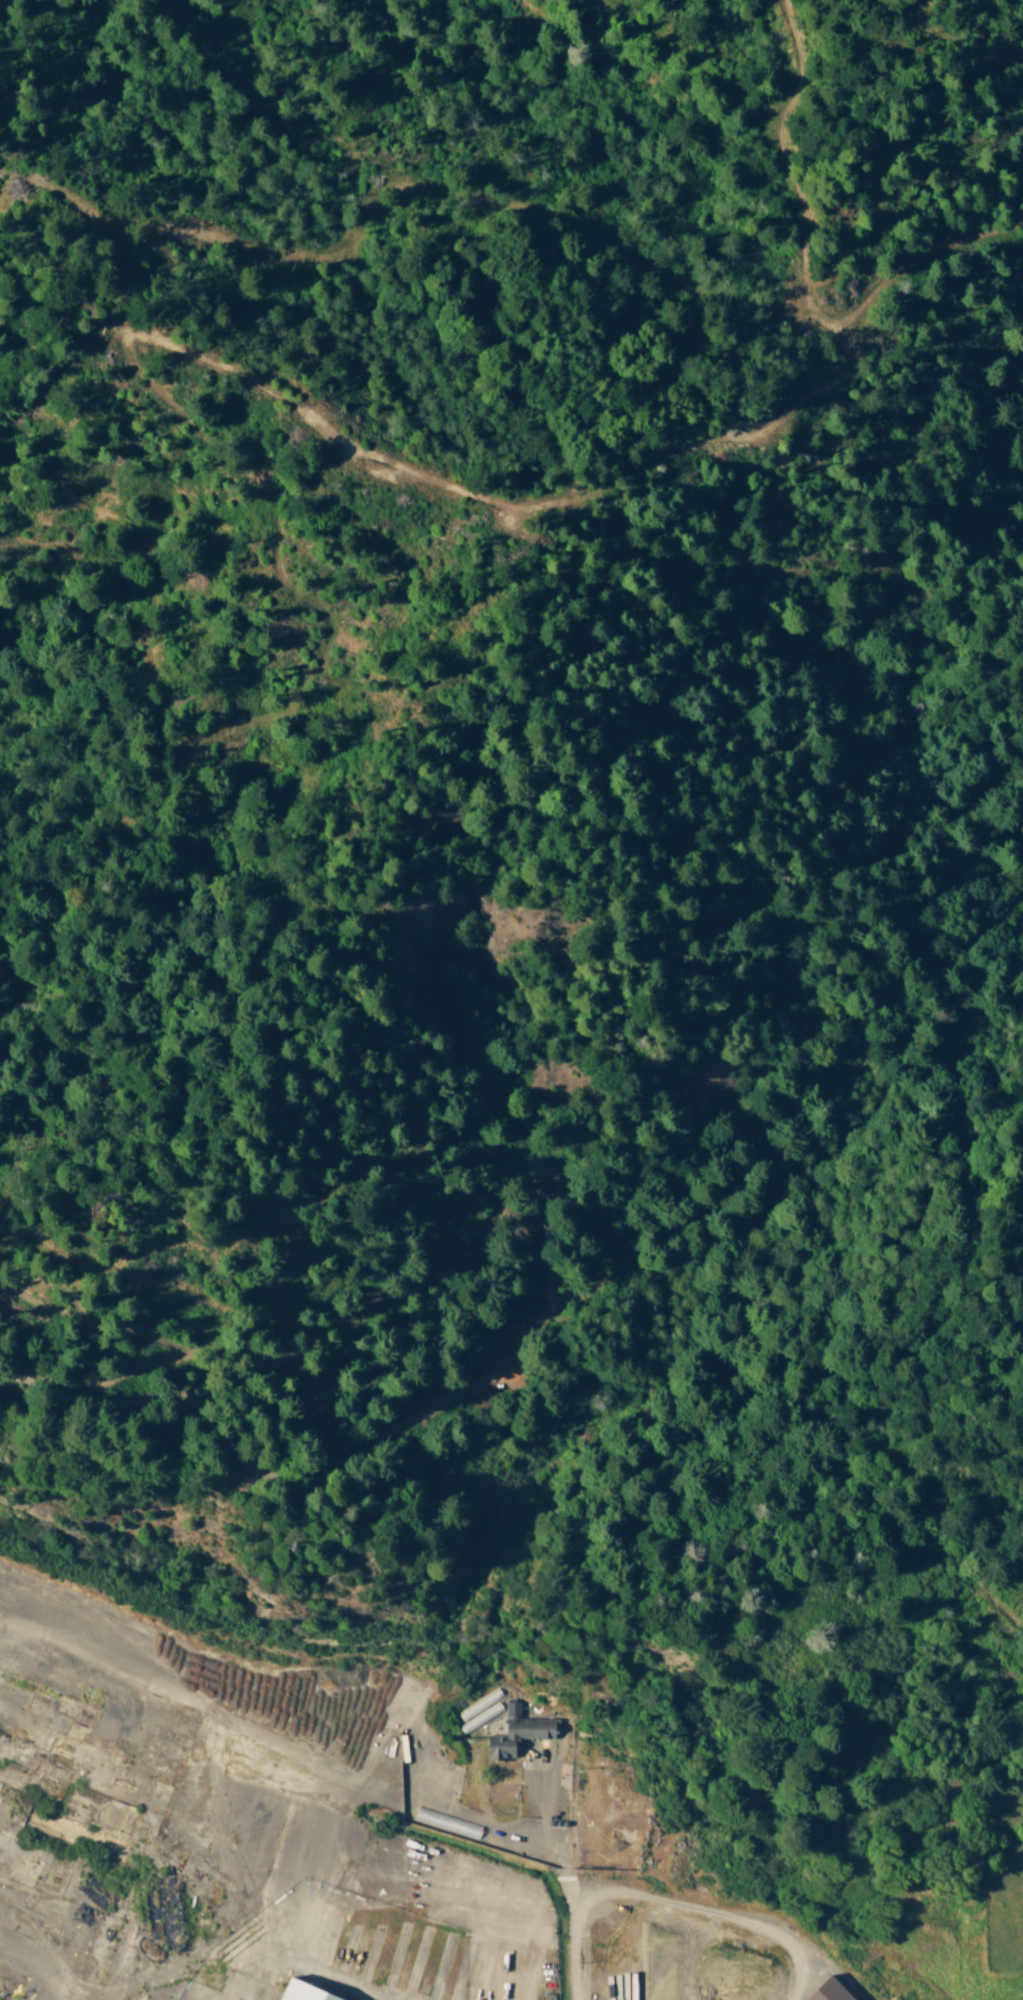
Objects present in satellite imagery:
building: (526, 1731)
road: (571, 1894)
road: (412, 1895)
road: (69, 1925)
road: (250, 1943)
building: (318, 1991)

